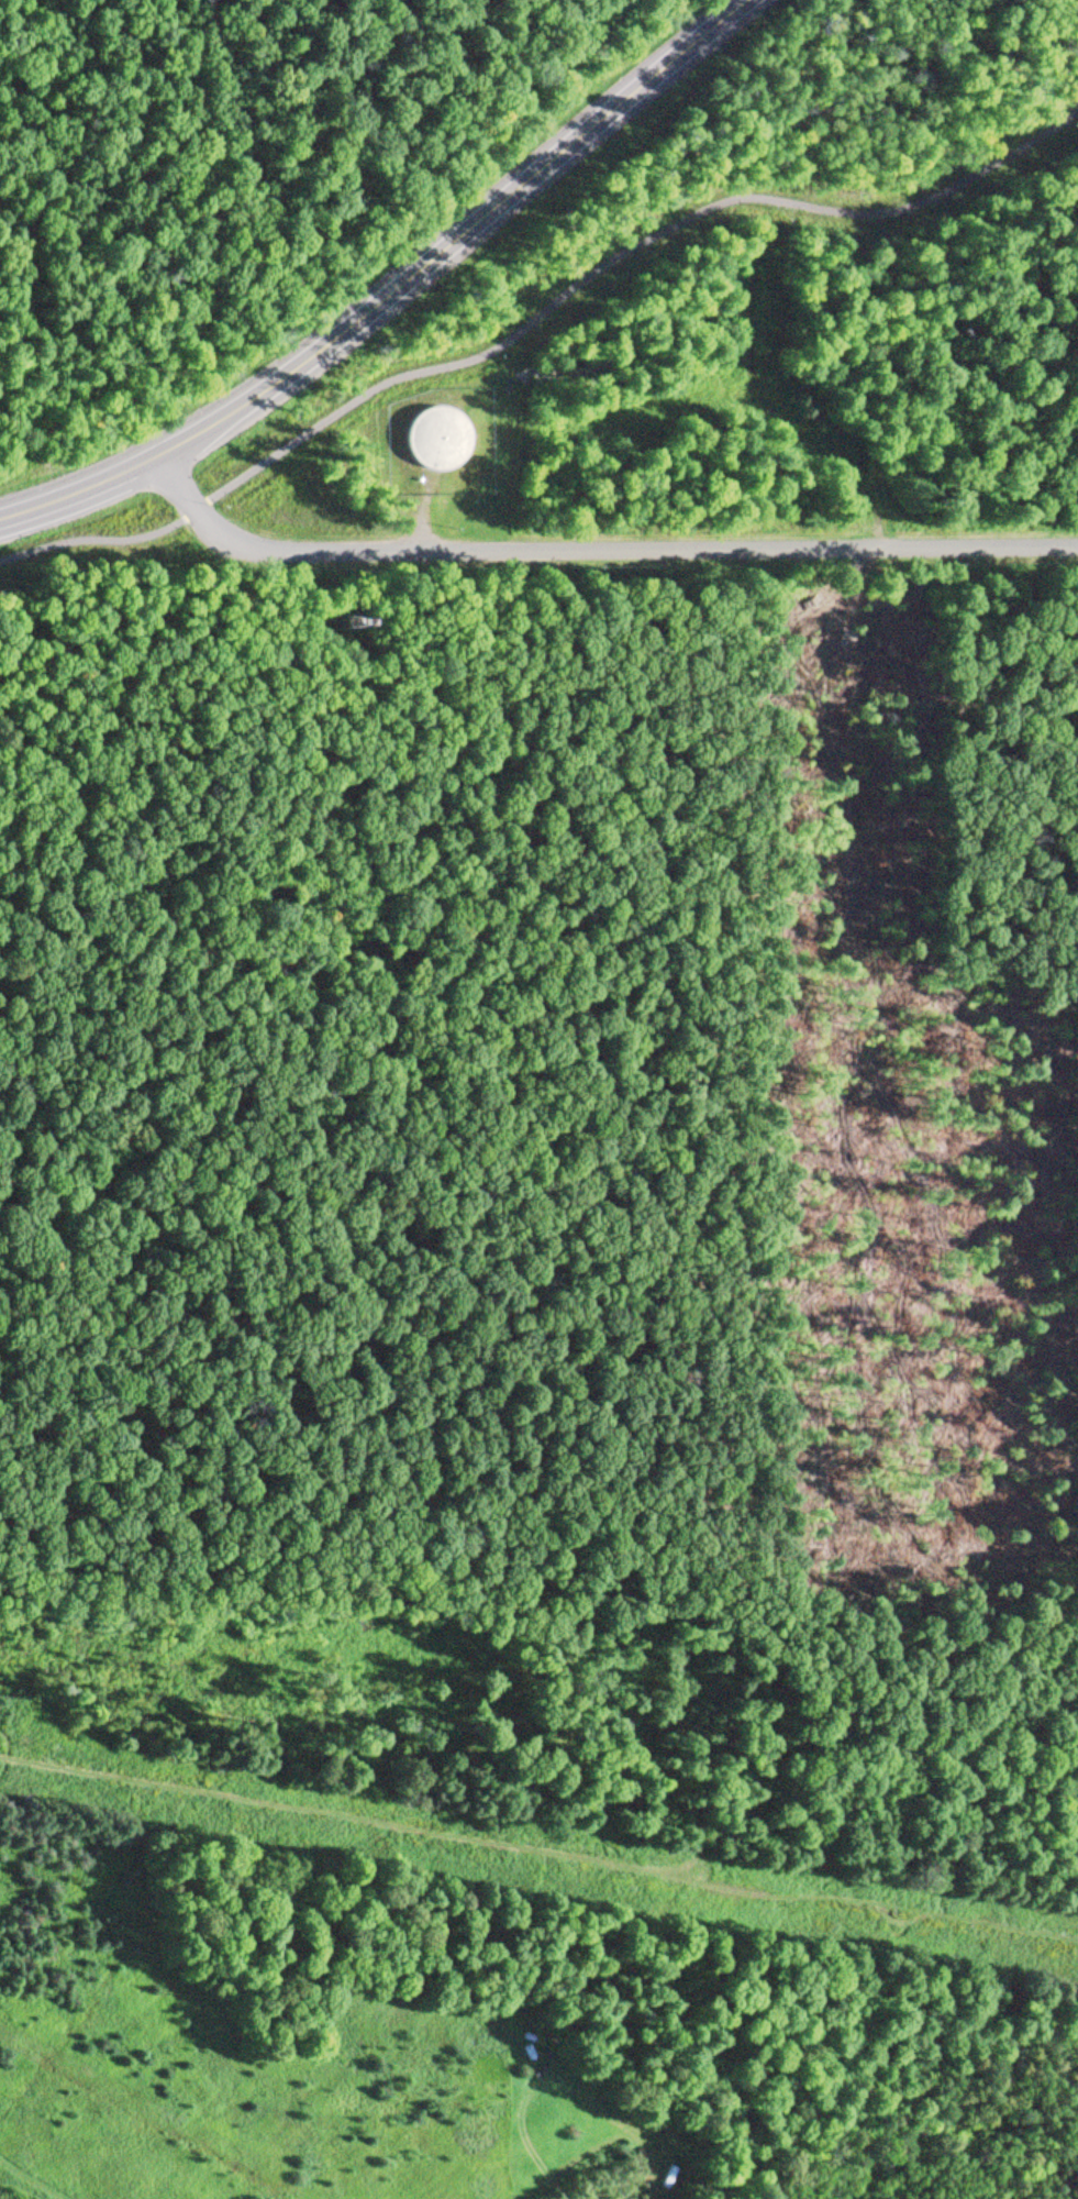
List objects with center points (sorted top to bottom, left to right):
road: (391, 290)
road: (537, 317)
building: (430, 440)
road: (591, 553)

